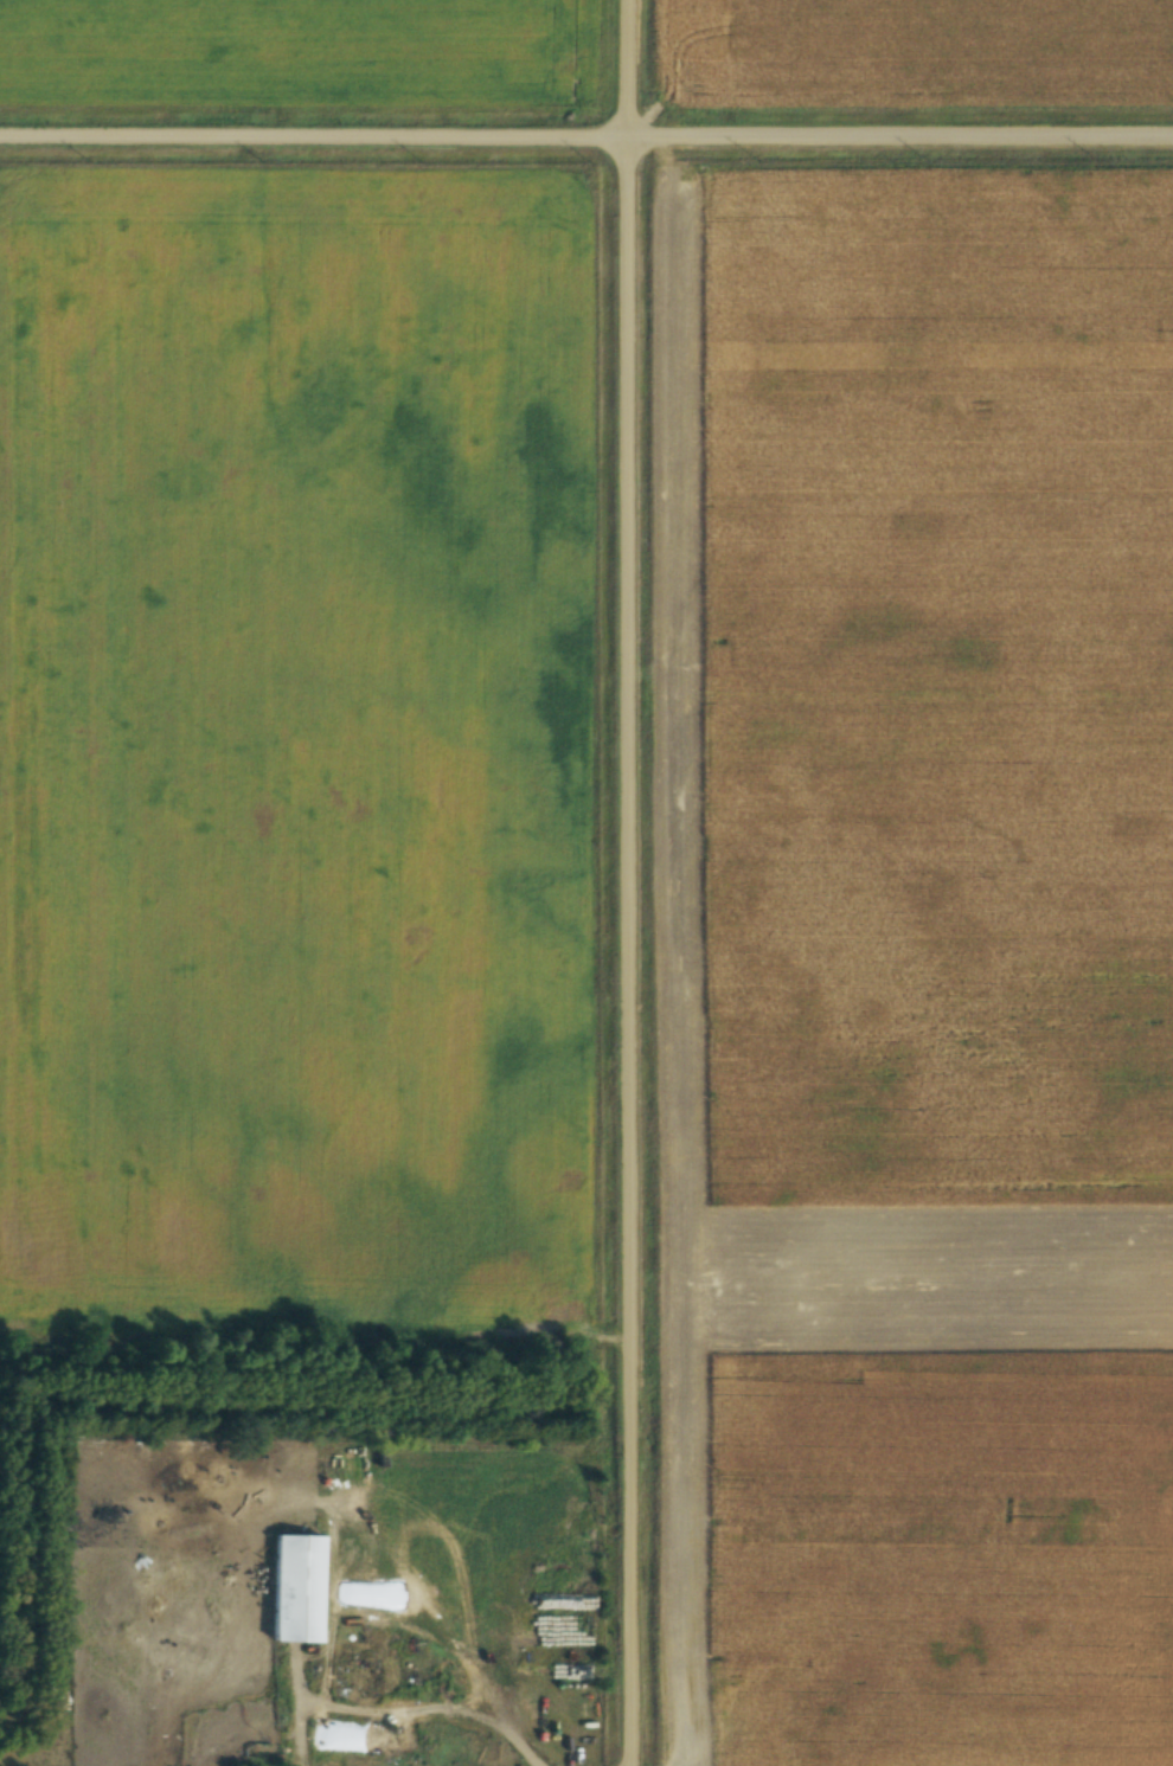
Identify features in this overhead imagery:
road: (585, 142)
road: (611, 882)
building: (293, 1588)
road: (724, 1729)

